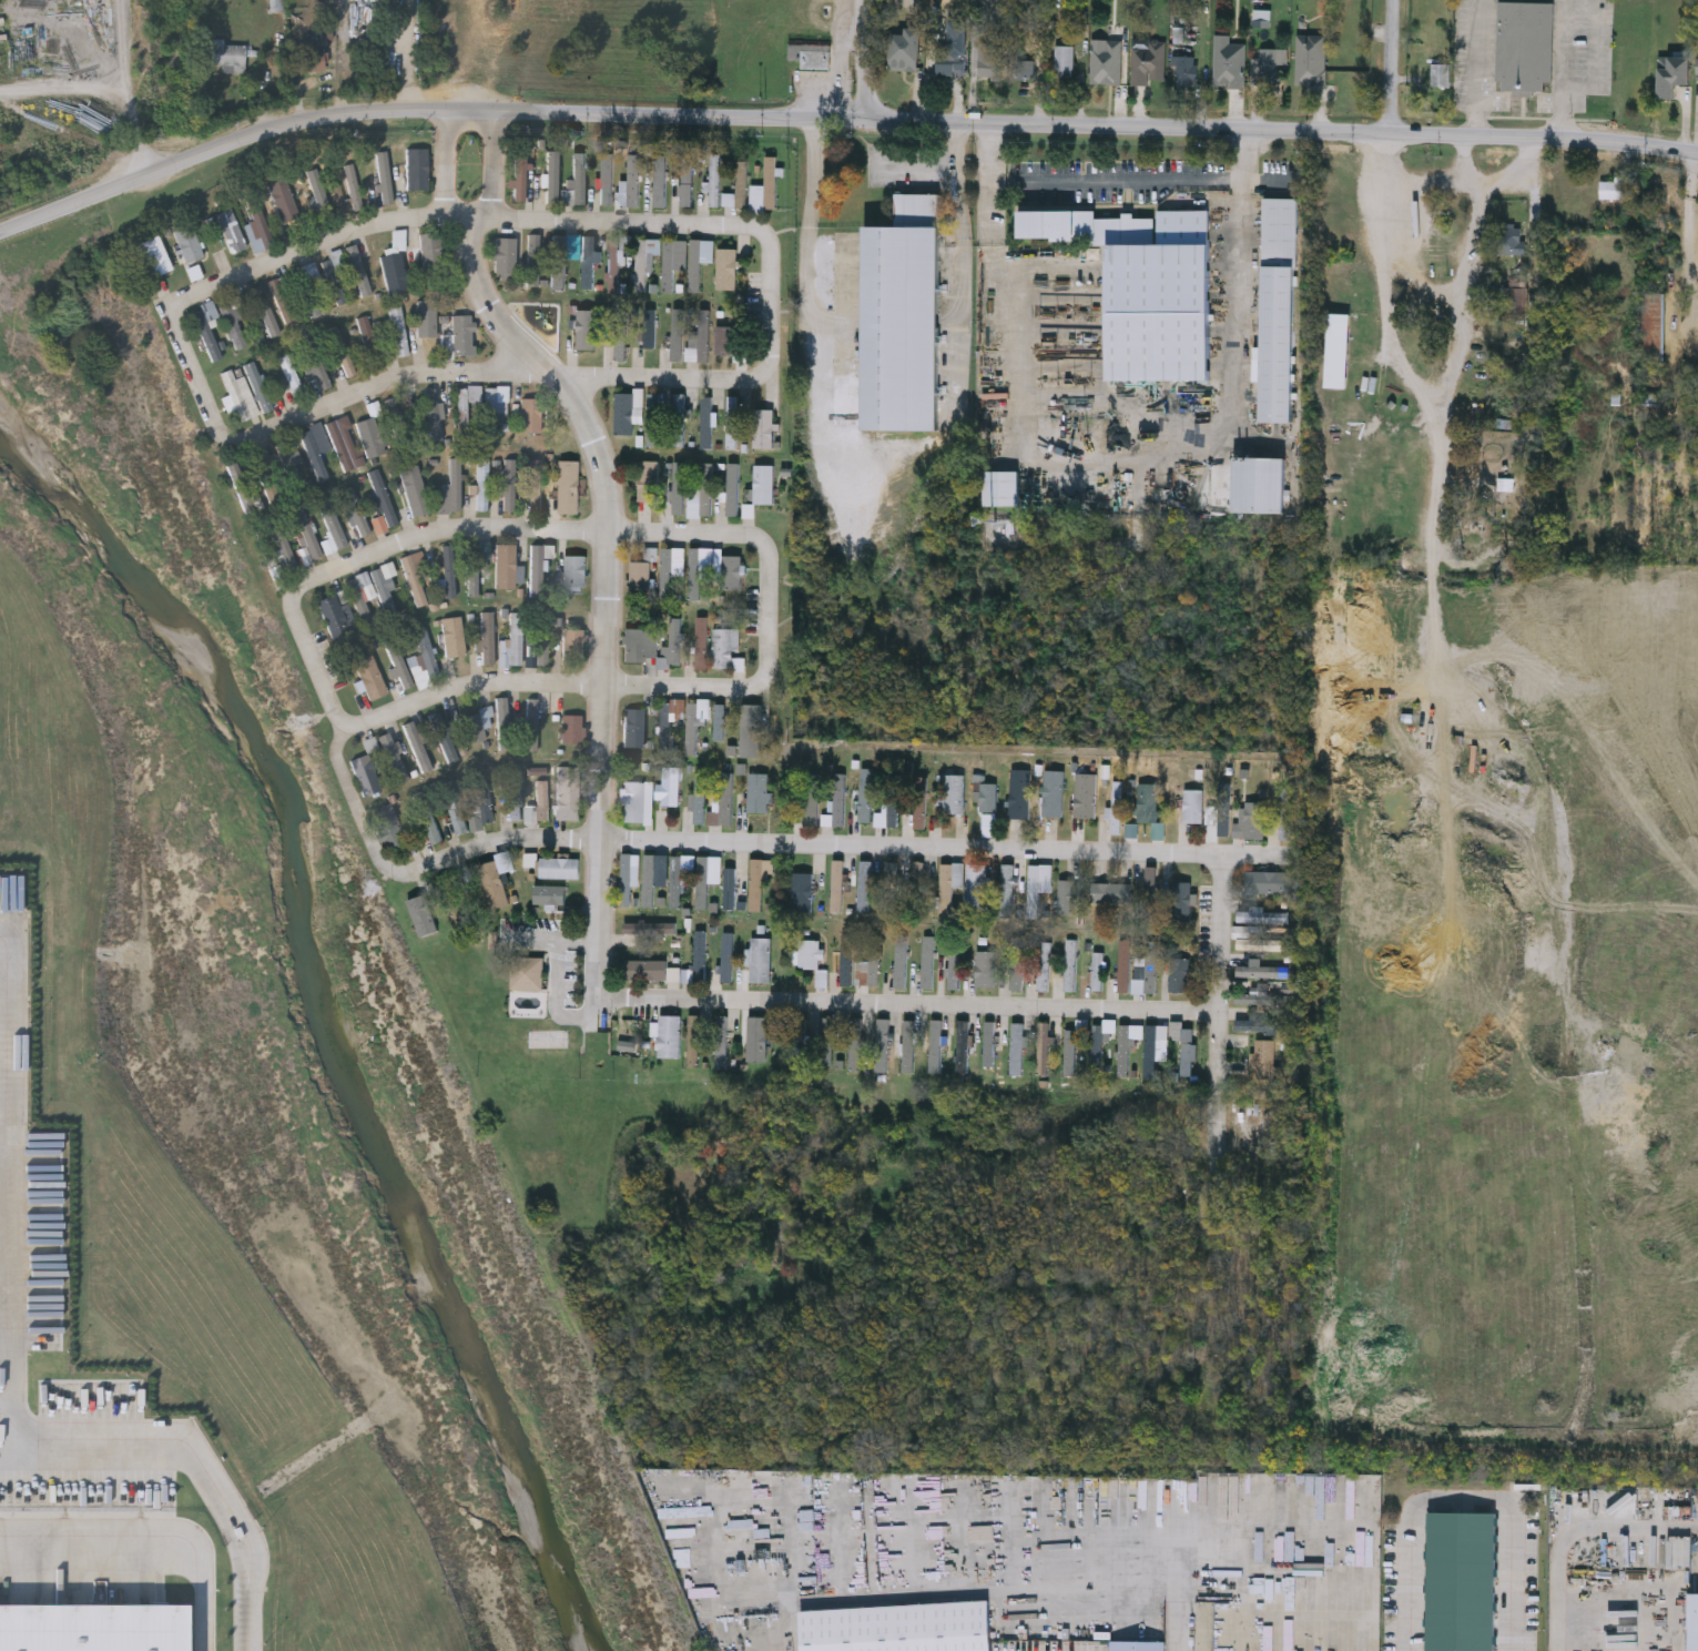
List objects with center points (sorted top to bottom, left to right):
building: (1029, 1)
building: (1524, 44)
road: (125, 49)
building: (954, 49)
building: (906, 50)
building: (993, 59)
building: (1311, 59)
building: (814, 60)
building: (228, 61)
road: (865, 62)
building: (1066, 62)
building: (1107, 63)
building: (314, 64)
building: (1149, 64)
building: (1230, 65)
building: (1265, 67)
road: (1393, 67)
road: (1478, 69)
building: (1027, 70)
road: (1562, 70)
building: (1188, 71)
building: (1441, 74)
building: (1674, 74)
road: (65, 88)
road: (424, 115)
road: (1282, 130)
road: (140, 134)
road: (938, 168)
building: (417, 170)
building: (521, 176)
building: (552, 176)
building: (385, 178)
building: (608, 180)
building: (714, 181)
road: (1451, 181)
building: (578, 182)
road: (1117, 182)
building: (771, 183)
road: (1517, 183)
building: (631, 184)
building: (657, 184)
building: (354, 185)
road: (448, 185)
road: (491, 185)
building: (687, 186)
building: (1615, 188)
building: (317, 194)
building: (338, 195)
building: (758, 199)
building: (285, 202)
road: (618, 227)
building: (260, 229)
building: (232, 232)
building: (1508, 239)
building: (189, 243)
road: (315, 251)
building: (360, 252)
building: (433, 254)
building: (157, 256)
building: (507, 256)
building: (535, 261)
building: (700, 261)
building: (589, 262)
building: (644, 262)
building: (673, 262)
building: (559, 263)
building: (396, 264)
building: (614, 265)
building: (728, 270)
building: (335, 275)
road: (1476, 283)
building: (1146, 286)
building: (1339, 291)
building: (1516, 302)
building: (1279, 310)
building: (903, 317)
building: (427, 320)
building: (1653, 324)
building: (235, 326)
building: (649, 328)
building: (209, 330)
building: (588, 330)
building: (400, 332)
building: (678, 334)
building: (464, 335)
building: (702, 335)
building: (622, 337)
building: (725, 340)
building: (370, 342)
building: (343, 355)
road: (1404, 358)
road: (1468, 363)
building: (314, 364)
road: (484, 376)
building: (260, 387)
building: (240, 397)
building: (495, 407)
building: (626, 414)
building: (465, 415)
building: (436, 416)
building: (531, 418)
building: (653, 419)
building: (680, 421)
building: (708, 423)
building: (732, 423)
building: (372, 437)
building: (345, 444)
building: (316, 445)
building: (267, 479)
building: (649, 480)
building: (1259, 484)
building: (484, 485)
building: (764, 485)
building: (510, 486)
building: (537, 486)
building: (570, 487)
building: (1000, 487)
building: (454, 488)
building: (679, 488)
building: (708, 488)
building: (242, 489)
building: (733, 490)
building: (415, 492)
building: (384, 498)
building: (357, 511)
building: (334, 530)
road: (516, 533)
building: (507, 567)
building: (475, 568)
building: (449, 570)
building: (537, 571)
building: (576, 571)
building: (732, 573)
building: (695, 574)
building: (417, 576)
building: (640, 576)
building: (386, 589)
building: (360, 604)
road: (604, 606)
building: (335, 616)
building: (454, 637)
building: (488, 639)
building: (516, 639)
building: (542, 639)
building: (701, 642)
building: (573, 646)
building: (634, 646)
building: (672, 646)
building: (726, 649)
building: (426, 661)
building: (399, 664)
building: (373, 679)
road: (550, 687)
building: (504, 718)
building: (670, 718)
building: (720, 722)
building: (531, 725)
building: (477, 726)
building: (692, 727)
building: (634, 728)
building: (573, 729)
building: (751, 730)
building: (444, 737)
building: (419, 746)
building: (395, 757)
building: (366, 774)
building: (670, 784)
building: (569, 792)
building: (759, 792)
building: (1054, 792)
building: (516, 793)
building: (954, 793)
building: (1019, 793)
building: (865, 794)
building: (484, 796)
building: (1086, 796)
building: (700, 797)
building: (987, 797)
building: (726, 798)
building: (813, 799)
building: (838, 799)
building: (543, 800)
building: (634, 801)
building: (921, 802)
building: (1148, 802)
building: (893, 803)
building: (1193, 806)
building: (1117, 807)
building: (1287, 813)
building: (428, 818)
building: (1223, 819)
building: (1251, 821)
building: (390, 828)
road: (755, 848)
building: (559, 867)
building: (627, 879)
building: (917, 879)
building: (649, 880)
building: (675, 881)
building: (703, 881)
building: (1270, 881)
building: (494, 883)
building: (762, 884)
building: (949, 884)
building: (976, 884)
building: (837, 885)
building: (893, 885)
building: (865, 887)
building: (1034, 887)
building: (1151, 887)
building: (730, 888)
building: (1007, 890)
building: (803, 892)
building: (1111, 892)
building: (549, 894)
building: (1067, 895)
building: (1181, 900)
building: (423, 914)
building: (1263, 916)
building: (651, 928)
road: (533, 938)
road: (577, 939)
building: (1263, 944)
building: (810, 953)
building: (700, 956)
building: (729, 958)
building: (761, 960)
building: (901, 960)
building: (928, 961)
building: (1017, 963)
building: (870, 964)
building: (954, 965)
building: (1044, 965)
building: (1070, 965)
building: (1125, 965)
building: (1151, 965)
building: (838, 968)
building: (986, 969)
building: (650, 970)
building: (1262, 971)
building: (527, 973)
building: (1095, 973)
building: (1180, 974)
road: (559, 997)
building: (1262, 999)
road: (906, 1009)
road: (1218, 1013)
building: (1262, 1025)
building: (669, 1036)
building: (758, 1039)
building: (693, 1040)
building: (828, 1040)
building: (722, 1041)
building: (800, 1042)
building: (856, 1043)
building: (1047, 1043)
building: (1183, 1043)
building: (883, 1045)
building: (908, 1045)
building: (935, 1045)
building: (963, 1046)
building: (990, 1046)
building: (1097, 1046)
building: (1017, 1049)
building: (1125, 1051)
building: (1151, 1051)
building: (1070, 1052)
building: (1265, 1059)
road: (14, 1158)
road: (199, 1448)
road: (1464, 1498)
road: (1574, 1531)
road: (1143, 1539)
road: (150, 1547)
building: (1461, 1581)
building: (1694, 1622)
road: (1179, 1624)
building: (93, 1628)
building: (898, 1628)
building: (1137, 1645)

